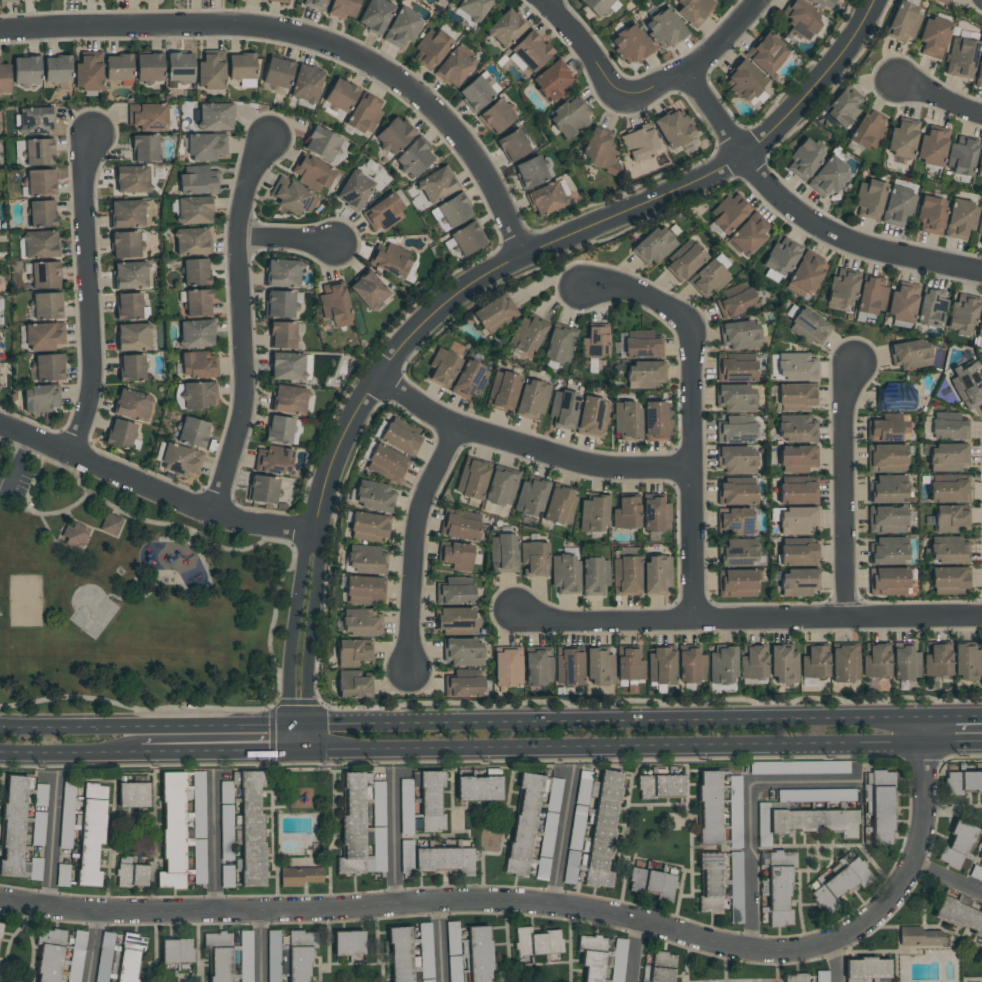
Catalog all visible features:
building: (8, 0)
building: (280, 1)
building: (942, 1)
building: (821, 3)
building: (315, 4)
building: (600, 5)
building: (343, 8)
building: (474, 8)
building: (693, 10)
building: (375, 15)
building: (802, 19)
building: (903, 23)
building: (402, 27)
building: (505, 28)
building: (664, 28)
building: (933, 37)
road: (311, 39)
building: (630, 45)
building: (432, 47)
road: (585, 51)
building: (529, 53)
building: (766, 53)
building: (961, 58)
road: (700, 65)
building: (118, 67)
building: (149, 67)
building: (179, 67)
building: (454, 68)
building: (242, 69)
building: (26, 70)
building: (56, 70)
building: (211, 70)
building: (88, 71)
building: (277, 74)
building: (979, 75)
building: (4, 77)
building: (552, 81)
building: (744, 81)
building: (306, 84)
building: (475, 93)
building: (339, 96)
road: (941, 100)
building: (844, 107)
building: (365, 114)
building: (148, 116)
building: (496, 116)
building: (569, 116)
building: (213, 117)
building: (34, 121)
building: (674, 129)
building: (869, 130)
building: (393, 135)
building: (902, 138)
building: (323, 144)
building: (639, 144)
building: (512, 145)
building: (932, 146)
building: (206, 147)
building: (145, 148)
building: (39, 152)
building: (600, 152)
building: (961, 156)
building: (414, 158)
building: (804, 159)
building: (312, 171)
building: (531, 172)
building: (828, 176)
building: (132, 179)
building: (198, 182)
building: (40, 183)
building: (436, 185)
building: (354, 190)
building: (292, 197)
building: (546, 199)
building: (869, 199)
building: (897, 206)
building: (194, 210)
building: (454, 210)
building: (129, 213)
building: (383, 213)
building: (728, 213)
building: (41, 214)
building: (930, 215)
building: (960, 219)
road: (805, 220)
building: (979, 228)
building: (747, 235)
building: (467, 238)
road: (562, 238)
road: (283, 240)
building: (191, 241)
building: (40, 244)
building: (125, 245)
building: (653, 245)
building: (684, 260)
building: (779, 260)
building: (390, 261)
building: (195, 272)
building: (282, 273)
building: (45, 275)
building: (133, 275)
building: (805, 275)
building: (709, 277)
building: (841, 289)
building: (368, 290)
building: (871, 295)
road: (88, 296)
building: (735, 300)
building: (902, 302)
building: (198, 303)
building: (278, 304)
building: (335, 305)
building: (46, 306)
building: (931, 307)
building: (494, 314)
building: (962, 314)
building: (980, 323)
road: (240, 324)
building: (808, 327)
building: (196, 334)
building: (282, 335)
building: (527, 335)
building: (740, 335)
building: (44, 336)
building: (133, 337)
building: (596, 342)
building: (638, 344)
building: (560, 345)
building: (910, 354)
building: (197, 366)
building: (290, 366)
building: (48, 367)
building: (736, 367)
building: (795, 367)
building: (131, 368)
building: (442, 368)
building: (643, 375)
building: (469, 381)
building: (967, 386)
building: (504, 390)
building: (197, 395)
building: (796, 397)
building: (895, 397)
building: (39, 398)
building: (735, 398)
building: (288, 399)
building: (532, 399)
building: (133, 405)
building: (563, 408)
road: (692, 415)
building: (592, 417)
building: (627, 419)
building: (657, 419)
building: (947, 426)
building: (888, 428)
building: (796, 429)
building: (279, 430)
building: (735, 430)
building: (193, 432)
building: (120, 434)
building: (400, 439)
road: (526, 448)
road: (21, 450)
building: (948, 457)
building: (887, 458)
building: (180, 459)
building: (274, 459)
building: (796, 459)
building: (735, 460)
building: (387, 464)
parking lot: (1, 465)
road: (17, 466)
parking lot: (15, 476)
building: (472, 479)
building: (502, 486)
road: (154, 488)
building: (888, 488)
building: (262, 489)
road: (843, 491)
building: (948, 492)
building: (797, 493)
building: (736, 494)
building: (374, 496)
building: (531, 496)
road: (26, 501)
building: (559, 505)
building: (593, 512)
building: (626, 513)
building: (655, 514)
road: (69, 519)
building: (950, 519)
building: (886, 520)
building: (735, 522)
building: (111, 524)
road: (46, 526)
building: (368, 527)
road: (93, 528)
building: (460, 528)
building: (73, 536)
road: (174, 541)
road: (416, 547)
building: (947, 550)
building: (888, 551)
building: (504, 552)
building: (739, 553)
building: (798, 555)
building: (457, 556)
building: (534, 559)
building: (365, 561)
building: (564, 573)
building: (656, 574)
building: (595, 576)
building: (626, 576)
building: (457, 580)
building: (948, 580)
building: (887, 581)
building: (798, 582)
building: (736, 583)
road: (185, 587)
building: (364, 590)
building: (454, 594)
park: (26, 601)
park: (132, 603)
park: (92, 610)
road: (747, 620)
building: (454, 621)
building: (360, 622)
road: (294, 626)
road: (313, 627)
road: (271, 640)
building: (463, 651)
building: (352, 653)
building: (875, 661)
building: (937, 661)
building: (752, 662)
building: (815, 662)
building: (905, 662)
building: (845, 663)
building: (967, 663)
building: (629, 664)
building: (690, 665)
building: (722, 665)
building: (784, 665)
building: (538, 666)
building: (568, 666)
building: (661, 666)
building: (507, 667)
building: (599, 667)
building: (463, 684)
building: (351, 685)
road: (953, 716)
road: (615, 721)
traffic signals: (288, 724)
road: (298, 724)
traffic signals: (308, 724)
road: (219, 725)
road: (75, 727)
road: (288, 736)
road: (308, 736)
road: (911, 742)
road: (953, 742)
road: (602, 746)
traffic signals: (288, 749)
road: (298, 749)
traffic signals: (308, 749)
road: (214, 750)
road: (70, 751)
building: (816, 767)
building: (962, 782)
building: (659, 786)
building: (477, 788)
building: (405, 790)
building: (132, 794)
building: (40, 795)
building: (811, 795)
building: (430, 801)
building: (708, 807)
building: (734, 812)
road: (750, 814)
building: (66, 815)
building: (530, 819)
building: (225, 822)
building: (351, 825)
building: (599, 825)
building: (13, 826)
building: (198, 826)
building: (249, 827)
building: (171, 831)
building: (90, 832)
building: (867, 835)
road: (561, 838)
building: (489, 840)
road: (393, 841)
road: (50, 842)
road: (213, 845)
building: (957, 846)
building: (980, 855)
building: (406, 857)
building: (444, 859)
road: (948, 874)
building: (130, 875)
building: (226, 876)
building: (299, 876)
building: (652, 883)
building: (709, 883)
building: (839, 885)
building: (777, 886)
building: (734, 887)
road: (551, 907)
building: (959, 915)
building: (0, 925)
building: (919, 939)
building: (536, 942)
building: (348, 943)
road: (439, 943)
road: (258, 946)
road: (91, 947)
building: (176, 950)
road: (635, 951)
building: (426, 952)
building: (49, 954)
building: (299, 954)
building: (400, 954)
building: (480, 954)
building: (76, 956)
building: (218, 956)
building: (245, 956)
building: (273, 956)
building: (104, 957)
building: (129, 957)
building: (592, 957)
building: (618, 960)
road: (831, 962)
building: (660, 966)
building: (866, 970)
building: (822, 976)
building: (795, 978)

